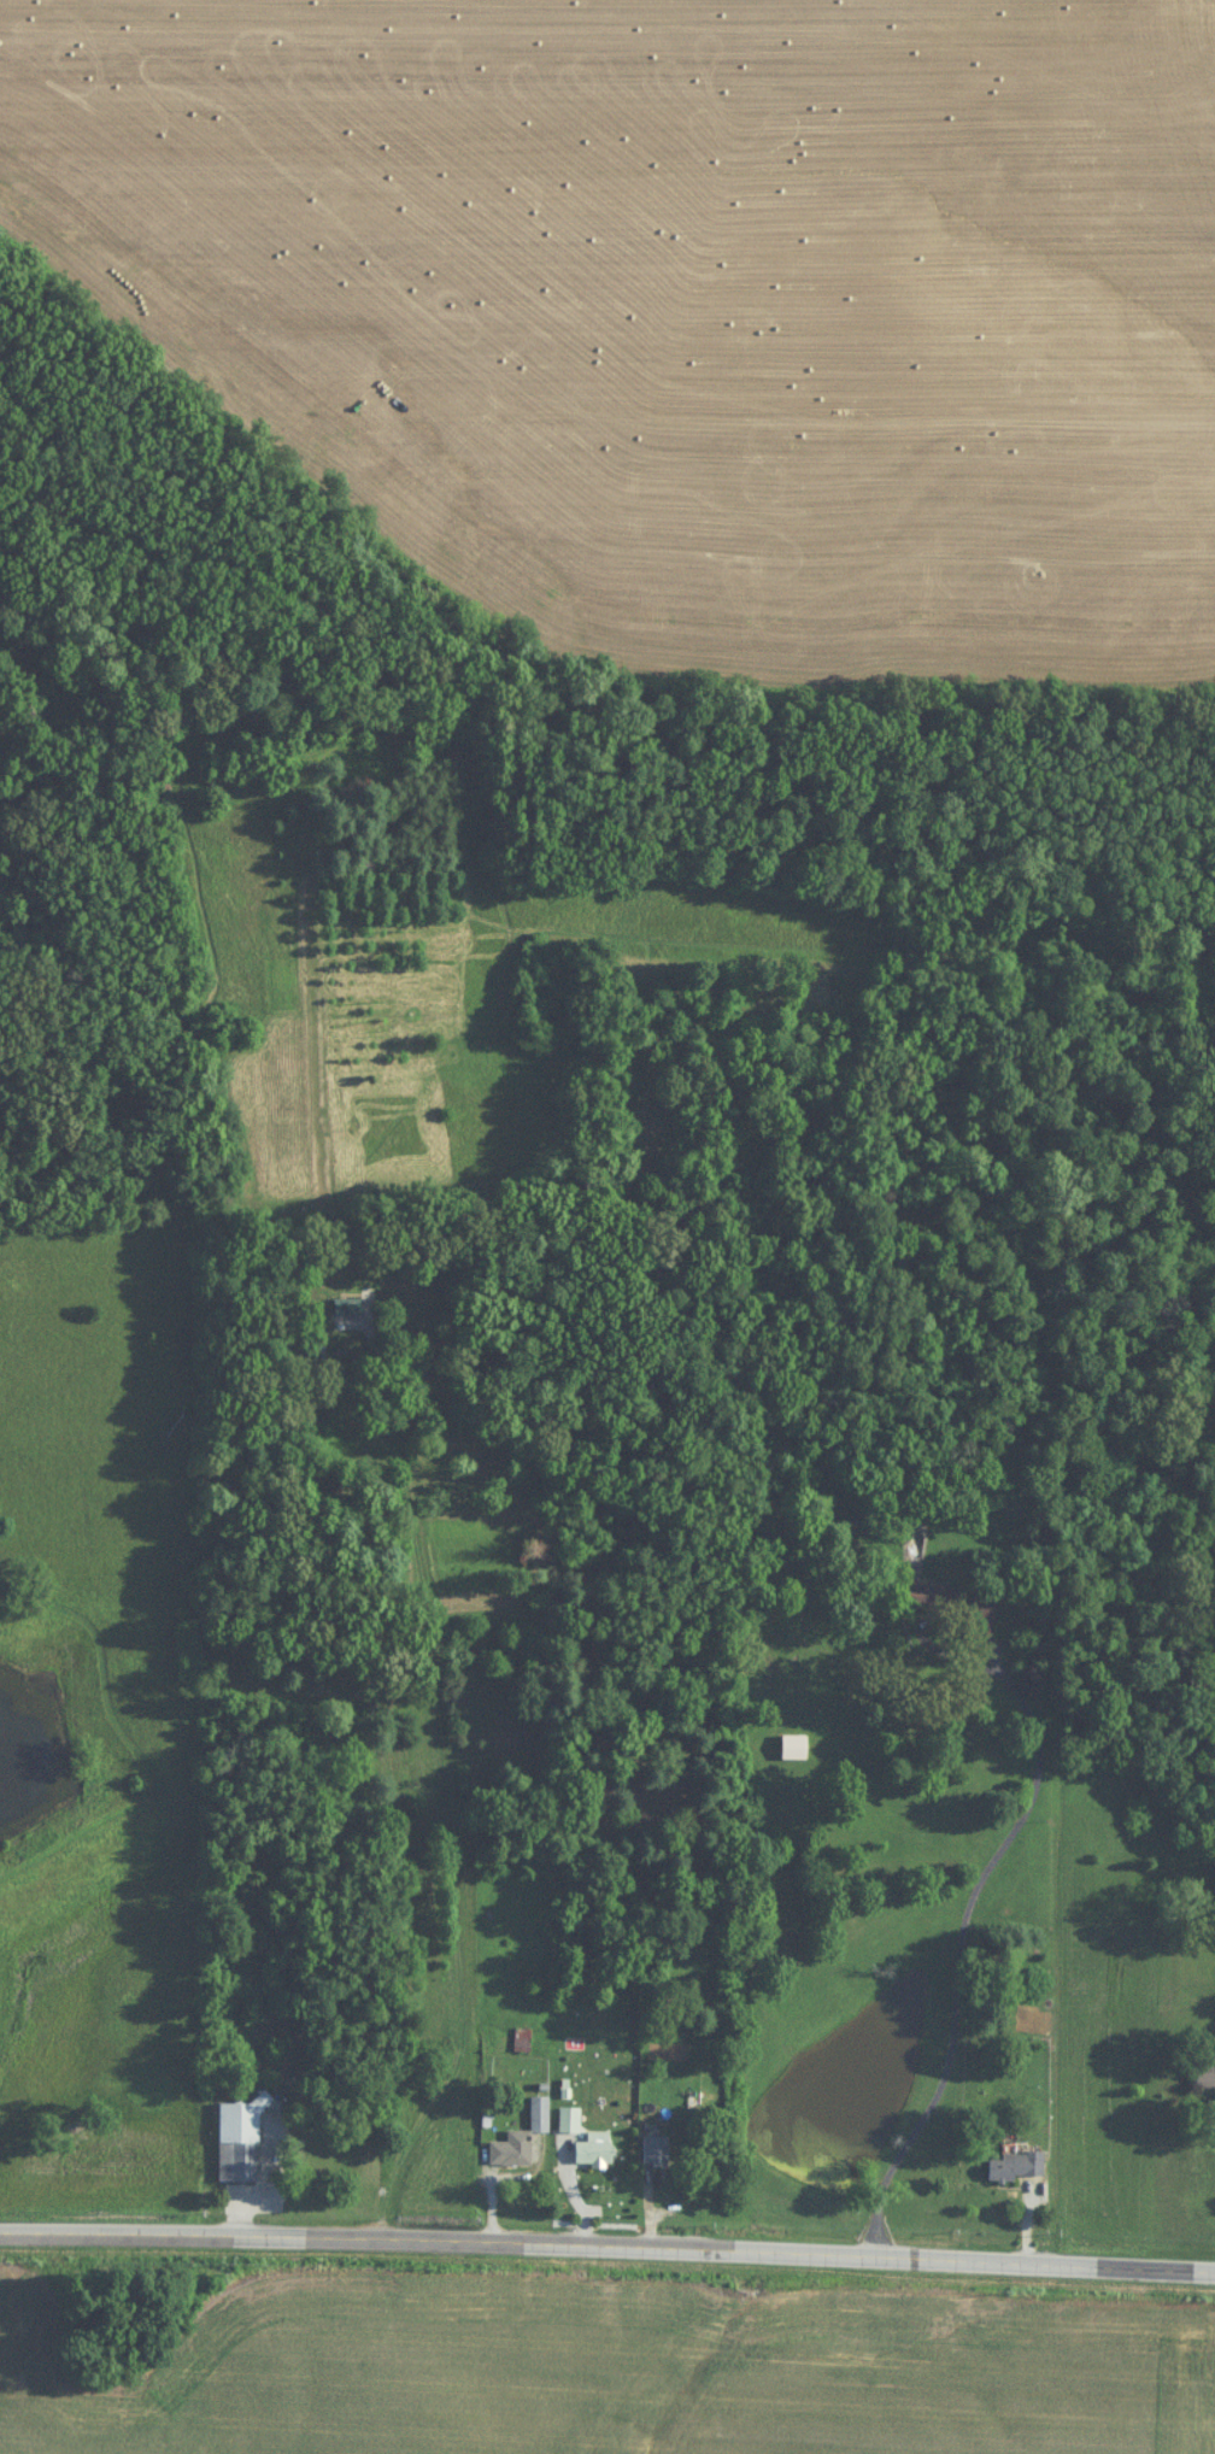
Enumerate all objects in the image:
building: (950, 1601)
building: (980, 1610)
building: (794, 1750)
road: (956, 1943)
building: (522, 2042)
building: (1207, 2078)
building: (539, 2117)
building: (569, 2123)
building: (237, 2144)
building: (511, 2153)
building: (594, 2153)
building: (657, 2154)
building: (1016, 2168)
road: (607, 2245)

